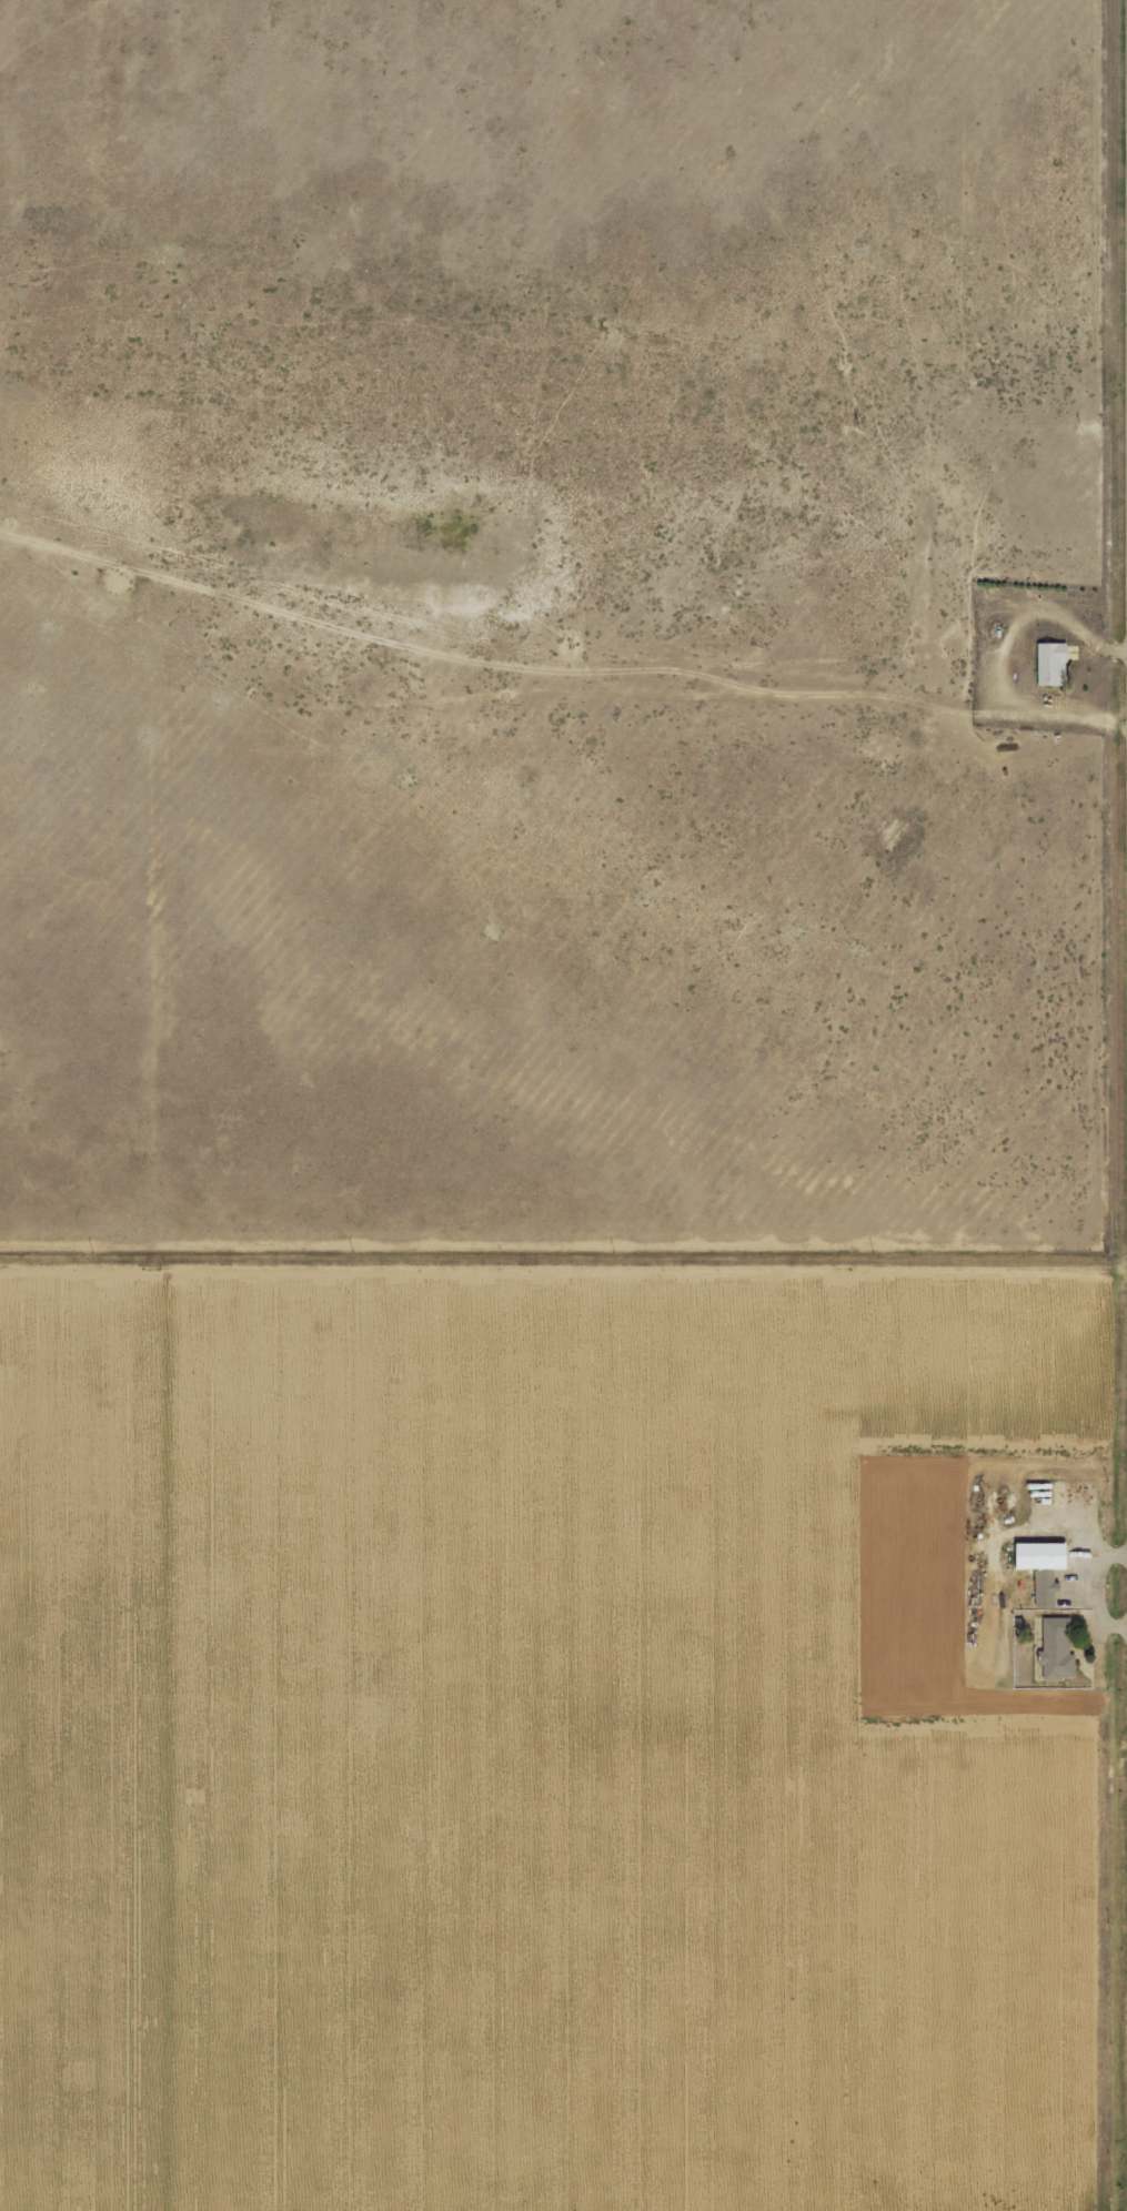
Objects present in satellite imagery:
road: (563, 1266)
building: (1036, 1566)
building: (1053, 1647)

